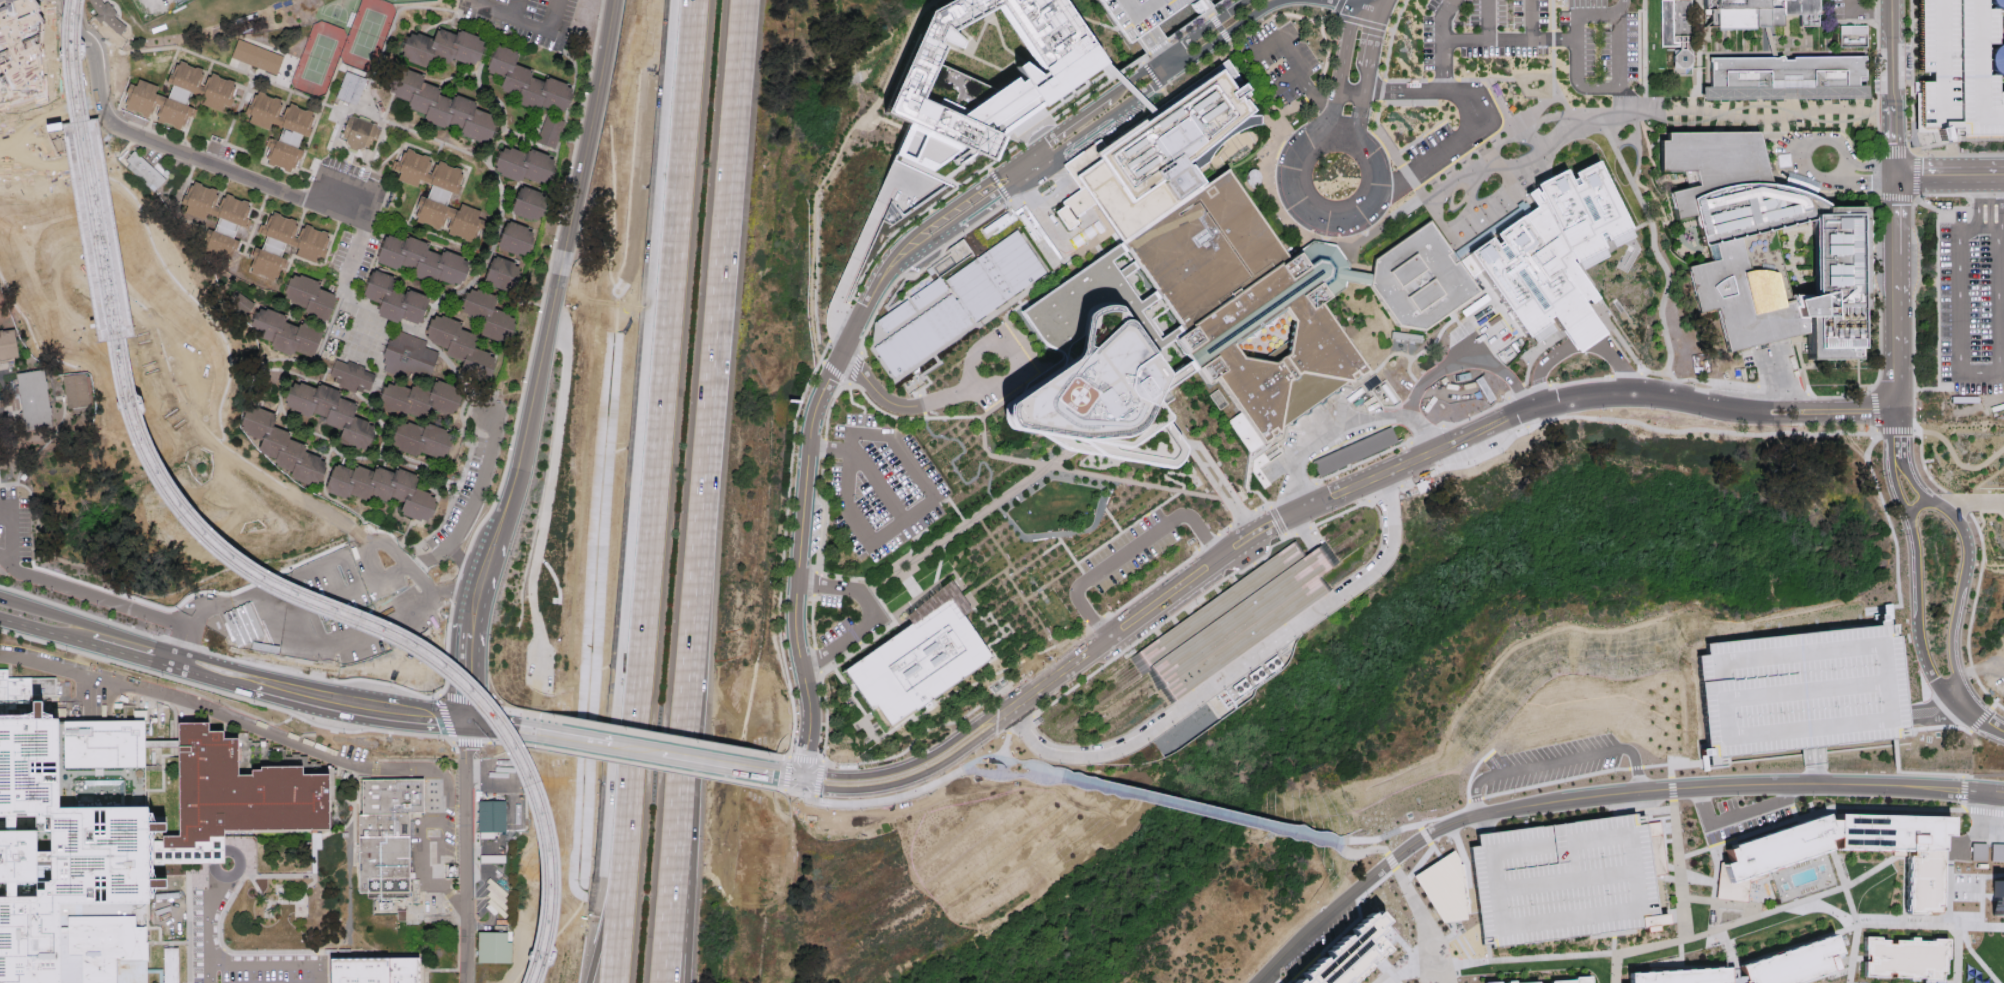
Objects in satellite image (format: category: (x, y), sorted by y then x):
road: (1381, 1)
road: (1352, 7)
road: (1621, 7)
road: (1383, 8)
parking lot: (1850, 9)
road: (516, 10)
road: (1868, 10)
park: (205, 11)
road: (1209, 12)
building: (1755, 12)
building: (1140, 13)
parking lot: (1140, 13)
road: (1279, 14)
building: (108, 15)
road: (1082, 15)
parking lot: (525, 18)
road: (1442, 18)
road: (1487, 18)
road: (1531, 18)
road: (1357, 19)
road: (1697, 20)
road: (87, 22)
road: (526, 24)
road: (1220, 27)
road: (387, 32)
building: (1678, 32)
building: (1851, 34)
parking lot: (1537, 36)
road: (1483, 37)
building: (446, 43)
road: (1370, 44)
road: (1697, 44)
road: (131, 45)
road: (1142, 45)
road: (1182, 45)
road: (1892, 45)
park: (343, 46)
road: (1166, 46)
road: (1159, 52)
building: (20, 53)
road: (67, 54)
road: (201, 54)
building: (257, 55)
building: (69, 59)
road: (1137, 59)
parking lot: (1280, 59)
building: (154, 61)
road: (1341, 64)
road: (1297, 65)
road: (96, 68)
building: (1961, 70)
parking lot: (1961, 70)
building: (1789, 72)
road: (112, 74)
road: (253, 74)
road: (1158, 74)
road: (457, 75)
road: (1320, 75)
road: (1488, 77)
building: (529, 79)
road: (1289, 79)
road: (1698, 80)
road: (1618, 83)
road: (1128, 85)
building: (350, 86)
building: (1030, 86)
road: (1350, 87)
road: (1150, 88)
road: (1402, 89)
building: (180, 94)
road: (1642, 94)
road: (490, 95)
road: (1628, 98)
road: (117, 99)
road: (106, 101)
road: (106, 103)
road: (1379, 103)
building: (441, 104)
road: (1361, 104)
road: (1500, 105)
road: (1877, 111)
road: (48, 113)
road: (1598, 114)
road: (1077, 119)
road: (1912, 119)
road: (149, 120)
road: (889, 120)
road: (55, 122)
road: (1055, 122)
road: (50, 123)
road: (22, 125)
road: (101, 127)
building: (550, 130)
building: (296, 131)
building: (55, 132)
road: (1892, 132)
building: (360, 133)
road: (516, 133)
road: (52, 135)
road: (58, 135)
building: (86, 135)
road: (423, 137)
road: (60, 138)
road: (100, 139)
road: (112, 139)
parking lot: (1428, 139)
building: (1221, 140)
road: (1274, 140)
road: (1456, 140)
road: (377, 146)
road: (57, 149)
road: (7, 150)
building: (1161, 151)
road: (427, 153)
road: (1797, 153)
road: (1525, 156)
road: (678, 160)
road: (210, 163)
building: (525, 164)
road: (832, 165)
road: (123, 166)
building: (144, 170)
road: (35, 171)
road: (2002, 171)
road: (1947, 172)
road: (1843, 173)
road: (1795, 185)
road: (121, 187)
road: (372, 188)
road: (1033, 188)
road: (1066, 190)
road: (269, 191)
parking lot: (346, 192)
building: (439, 193)
road: (970, 194)
road: (1916, 194)
road: (1054, 198)
road: (1083, 199)
building: (1079, 201)
road: (1976, 201)
road: (2001, 201)
building: (525, 203)
road: (1076, 204)
road: (1312, 213)
road: (967, 216)
building: (232, 222)
road: (421, 228)
road: (252, 235)
building: (513, 236)
road: (1065, 238)
building: (309, 245)
building: (1768, 248)
road: (859, 249)
building: (1552, 249)
road: (1653, 251)
road: (349, 254)
building: (423, 259)
road: (69, 262)
road: (521, 263)
building: (497, 271)
road: (1358, 277)
building: (1419, 278)
road: (6, 282)
road: (178, 284)
road: (1895, 291)
building: (928, 292)
building: (311, 294)
building: (395, 298)
building: (964, 301)
building: (1247, 302)
parking lot: (1971, 305)
road: (553, 307)
road: (148, 313)
road: (88, 314)
building: (485, 314)
building: (896, 315)
railway: (126, 323)
road: (104, 324)
railway: (103, 327)
road: (77, 336)
road: (422, 336)
building: (282, 337)
road: (1476, 337)
road: (1619, 338)
road: (154, 340)
road: (1576, 342)
building: (8, 343)
road: (39, 344)
building: (457, 344)
road: (1425, 346)
road: (1959, 350)
building: (405, 354)
road: (1531, 358)
building: (1104, 364)
road: (1380, 364)
road: (853, 367)
road: (1442, 367)
road: (833, 371)
building: (350, 375)
building: (75, 390)
road: (974, 390)
helipad: (1064, 394)
road: (1, 398)
building: (34, 399)
building: (421, 400)
road: (709, 400)
road: (1780, 404)
road: (282, 405)
road: (1860, 411)
building: (334, 414)
road: (796, 415)
road: (977, 415)
road: (61, 416)
road: (1780, 418)
road: (1496, 420)
road: (1632, 420)
road: (1914, 427)
road: (1875, 429)
road: (1897, 431)
road: (1180, 433)
building: (1247, 437)
road: (1274, 437)
road: (1321, 437)
road: (469, 439)
road: (1277, 439)
building: (424, 441)
road: (1261, 446)
building: (285, 447)
road: (829, 447)
road: (1251, 450)
building: (1353, 450)
road: (1256, 451)
road: (340, 456)
road: (907, 456)
road: (230, 459)
road: (350, 460)
road: (1956, 463)
road: (954, 466)
road: (1088, 472)
road: (24, 484)
parking lot: (881, 485)
building: (382, 488)
road: (1225, 490)
parking lot: (462, 491)
road: (1385, 491)
road: (1260, 494)
road: (1879, 496)
road: (548, 498)
road: (1966, 498)
road: (804, 499)
road: (1167, 499)
road: (450, 504)
road: (953, 504)
road: (472, 506)
road: (1918, 508)
road: (1111, 516)
road: (1279, 520)
parking lot: (14, 524)
road: (960, 526)
park: (1022, 528)
road: (1302, 530)
road: (9, 531)
road: (883, 533)
road: (1062, 533)
road: (915, 537)
road: (995, 543)
road: (1050, 547)
parking lot: (1128, 549)
railway: (239, 551)
road: (1127, 551)
road: (1195, 551)
railway: (227, 553)
road: (2, 554)
road: (646, 555)
road: (1320, 555)
road: (1071, 556)
road: (418, 558)
road: (900, 560)
road: (1966, 563)
road: (1024, 564)
road: (461, 566)
road: (103, 570)
road: (937, 571)
road: (1058, 575)
road: (1915, 580)
road: (982, 584)
road: (1039, 588)
road: (423, 590)
road: (915, 591)
road: (253, 594)
road: (1030, 594)
road: (1897, 595)
road: (3, 596)
road: (1197, 597)
parking lot: (830, 599)
road: (109, 600)
road: (968, 600)
road: (181, 603)
road: (1030, 608)
road: (988, 613)
road: (871, 614)
road: (1140, 615)
road: (891, 616)
road: (469, 617)
building: (1233, 617)
road: (93, 624)
road: (1009, 626)
road: (265, 628)
parking lot: (837, 630)
road: (42, 631)
road: (128, 656)
building: (915, 660)
parking lot: (540, 668)
road: (1235, 668)
road: (206, 669)
road: (463, 671)
building: (1799, 690)
parking lot: (1799, 690)
road: (300, 691)
road: (225, 695)
road: (932, 705)
road: (443, 706)
road: (513, 709)
road: (412, 711)
road: (1934, 714)
road: (1978, 718)
traffic signals: (462, 719)
road: (1982, 720)
road: (1020, 723)
road: (494, 724)
road: (1934, 730)
road: (648, 731)
road: (462, 738)
road: (289, 740)
road: (588, 740)
road: (506, 743)
road: (1001, 752)
road: (1893, 752)
road: (806, 757)
road: (1010, 760)
road: (705, 761)
road: (1815, 762)
road: (910, 763)
road: (642, 765)
parking lot: (1550, 765)
road: (1558, 765)
road: (1674, 765)
road: (1636, 768)
road: (1929, 770)
road: (1669, 772)
road: (1985, 772)
road: (781, 773)
road: (1010, 773)
road: (913, 776)
traffic signals: (799, 777)
road: (1817, 781)
road: (1556, 784)
road: (1848, 786)
road: (787, 789)
road: (1670, 789)
road: (1966, 789)
road: (1666, 790)
building: (233, 797)
road: (877, 799)
road: (1466, 800)
road: (1478, 807)
road: (1984, 807)
road: (1207, 808)
road: (1467, 809)
road: (1205, 813)
road: (1831, 814)
building: (492, 815)
parking lot: (1742, 815)
road: (1796, 817)
road: (1507, 819)
road: (1738, 821)
parking lot: (434, 823)
road: (1420, 828)
road: (1410, 830)
road: (1831, 832)
road: (1390, 836)
road: (1425, 837)
building: (314, 839)
road: (1422, 840)
road: (1367, 841)
building: (388, 842)
road: (1696, 849)
road: (1957, 850)
building: (1978, 850)
building: (1997, 850)
building: (72, 852)
road: (1369, 852)
building: (1764, 861)
road: (1390, 862)
road: (1678, 868)
road: (466, 870)
road: (1978, 870)
road: (1463, 872)
road: (1698, 876)
building: (1565, 880)
parking lot: (1565, 880)
road: (1823, 880)
parking lot: (1969, 884)
road: (608, 886)
road: (618, 886)
road: (667, 892)
road: (678, 892)
building: (1998, 893)
building: (1443, 896)
road: (1696, 897)
road: (1808, 897)
road: (1426, 899)
road: (1772, 899)
road: (1795, 900)
road: (1950, 905)
road: (1977, 905)
road: (1829, 907)
road: (1853, 911)
road: (1419, 912)
fountain: (1721, 913)
road: (1454, 932)
road: (1826, 932)
parking lot: (205, 933)
road: (1612, 933)
road: (1455, 935)
parking lot: (1324, 941)
road: (1612, 942)
road: (1725, 945)
building: (495, 947)
road: (1566, 953)
road: (1951, 953)
road: (1980, 955)
building: (1362, 958)
building: (1906, 958)
building: (168, 964)
road: (1614, 967)
building: (1762, 968)
road: (461, 970)
building: (374, 971)
road: (1733, 971)
road: (421, 972)
road: (1828, 975)
road: (425, 976)
building: (1575, 980)
road: (1734, 981)
building: (1493, 982)
building: (1509, 982)
road: (1810, 982)

